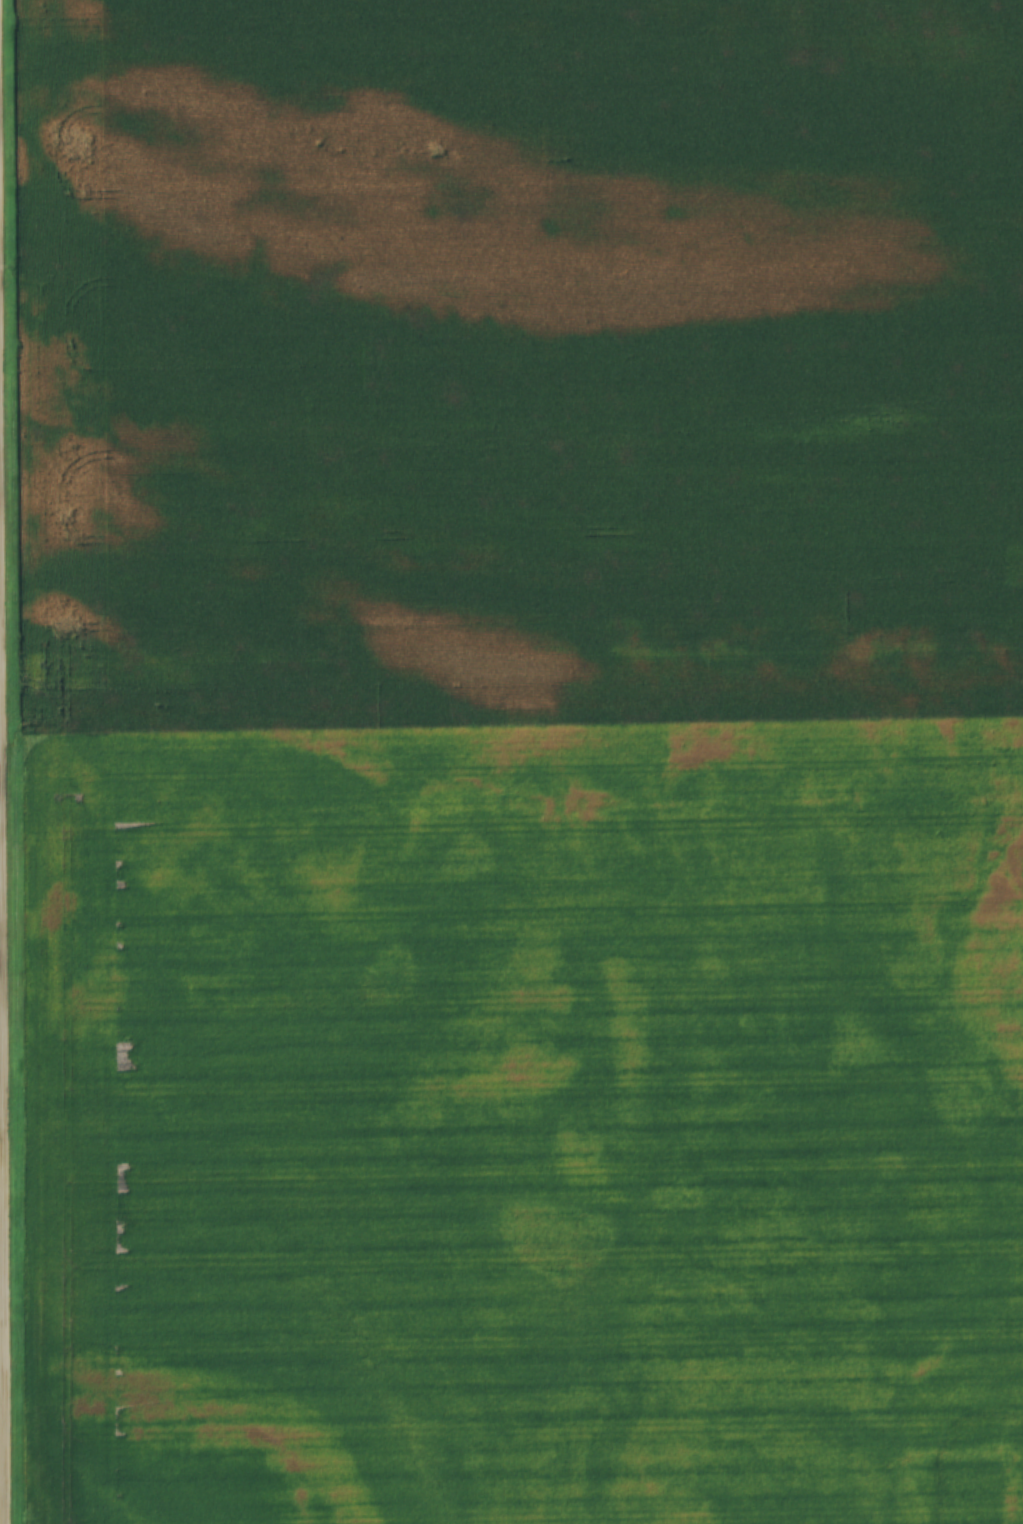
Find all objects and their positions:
crop: (522, 360)
road: (2, 1020)

